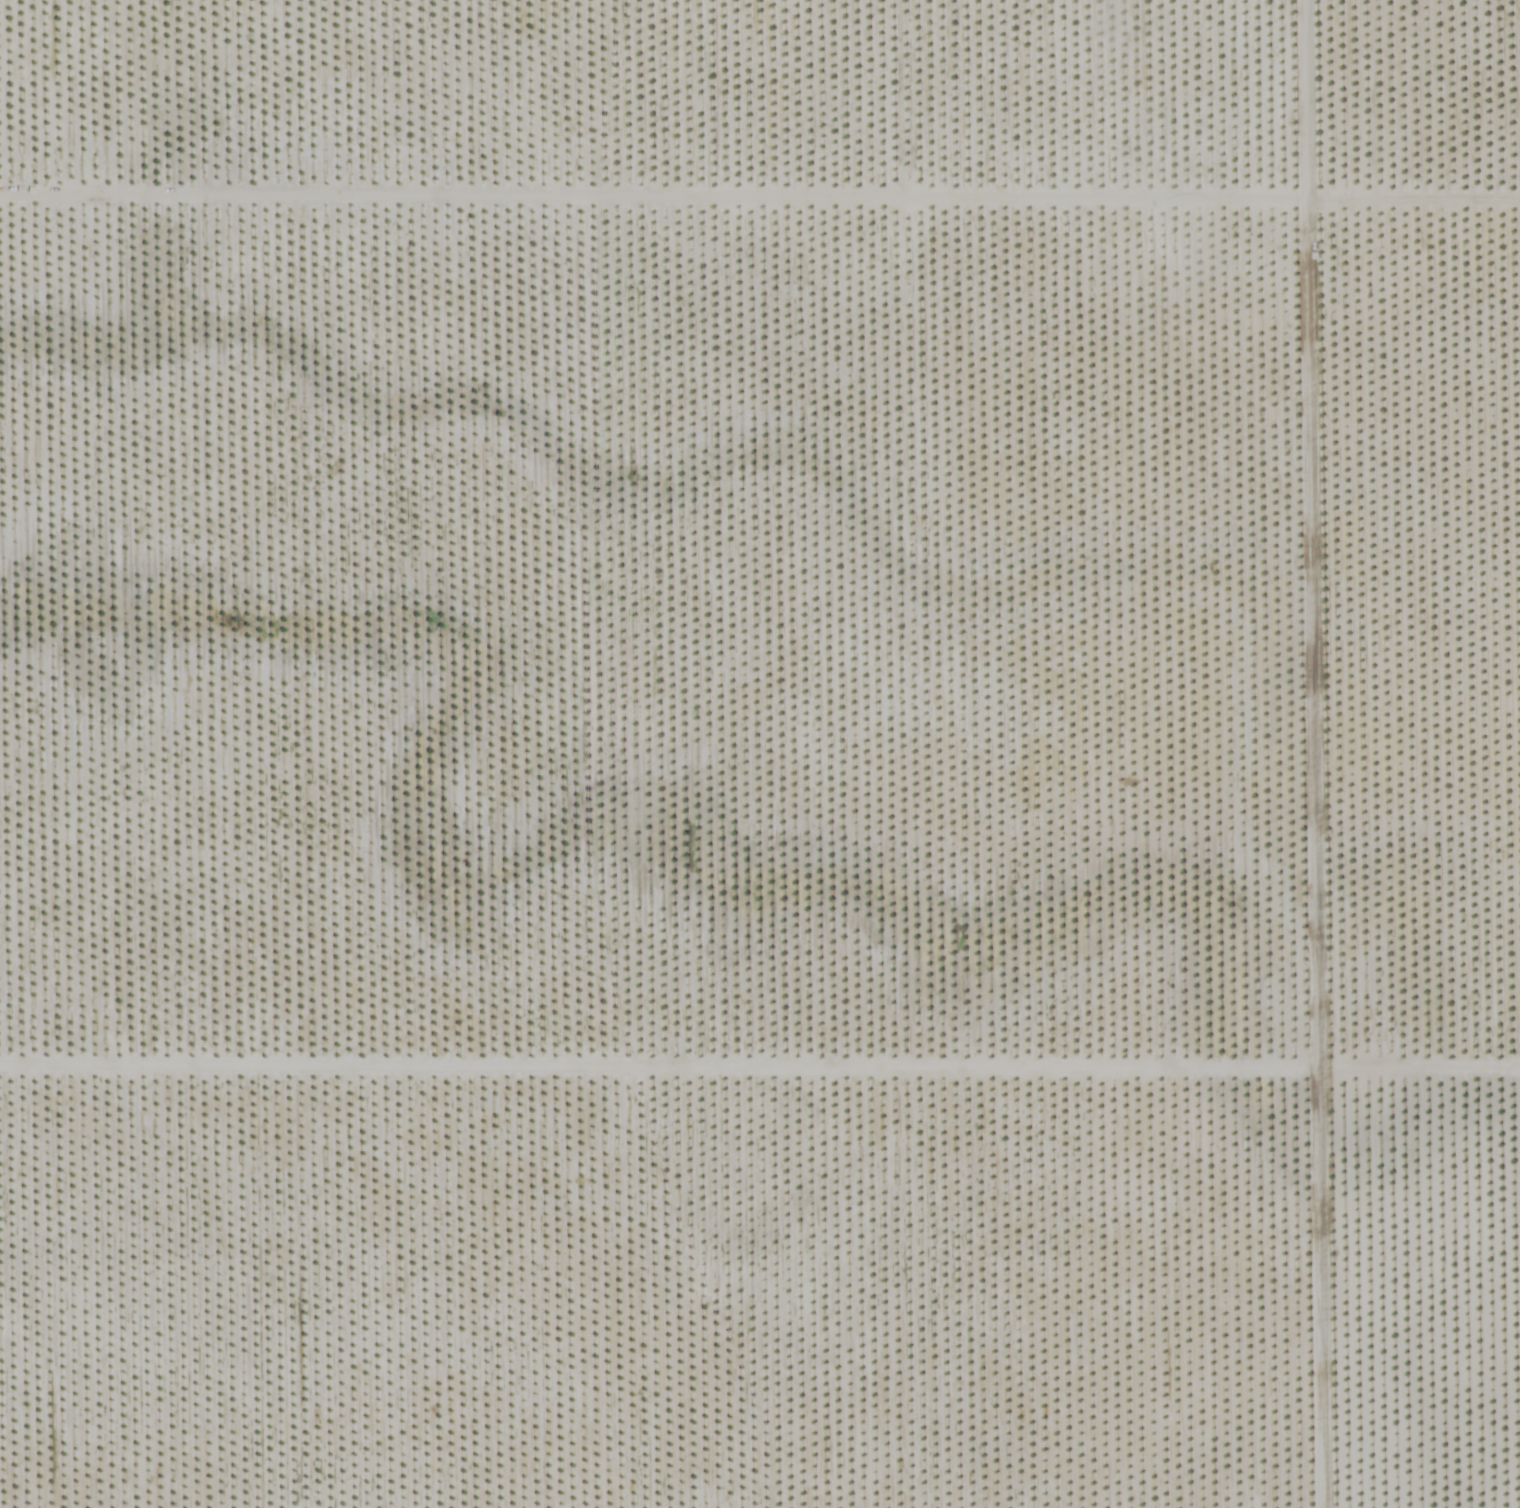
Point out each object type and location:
crop: (1422, 349)
crop: (1472, 1436)

